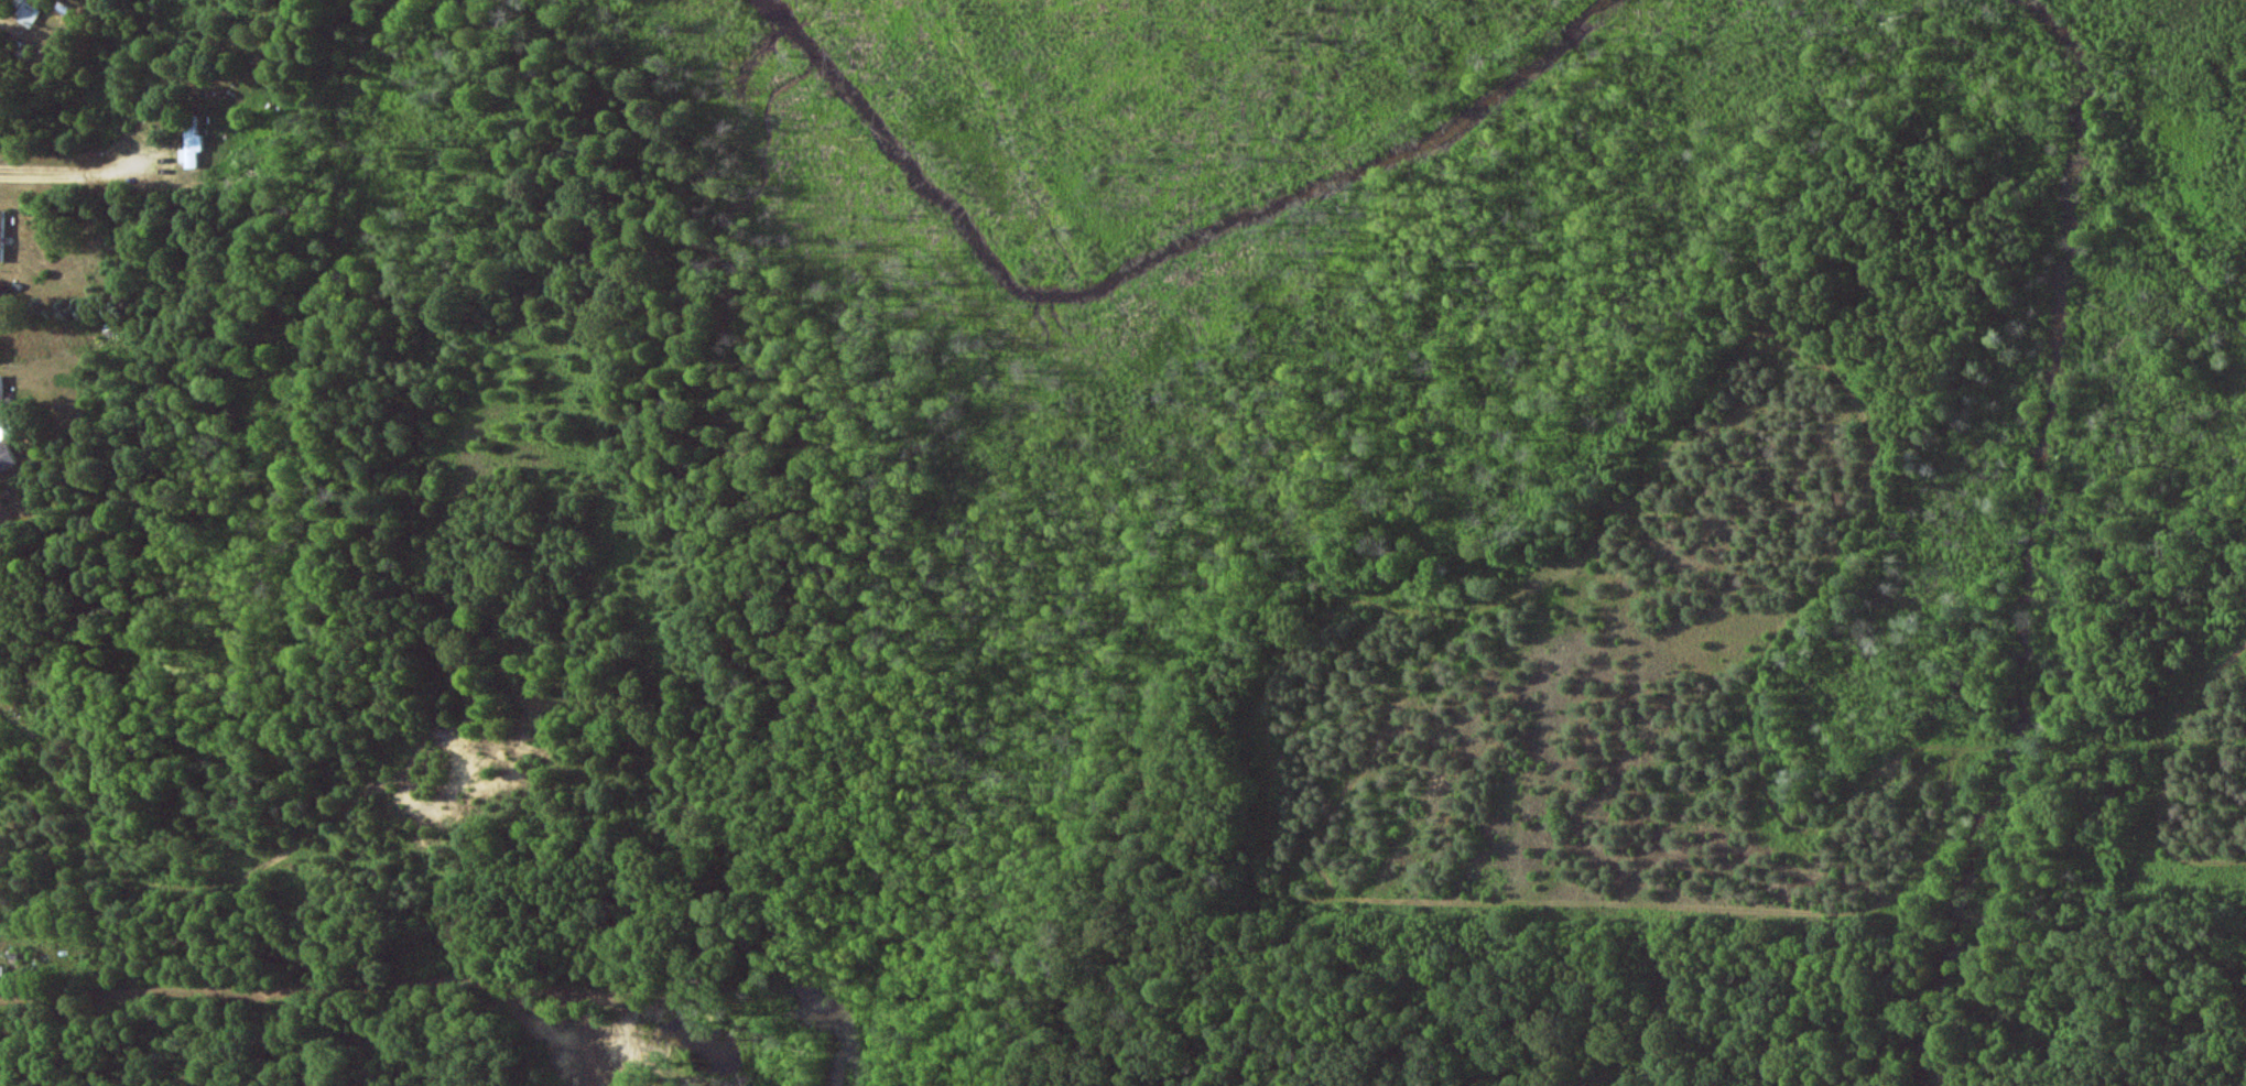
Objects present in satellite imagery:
building: (25, 12)
building: (192, 143)
road: (77, 178)
building: (1, 234)
building: (1, 395)
building: (7, 457)
building: (2, 970)

